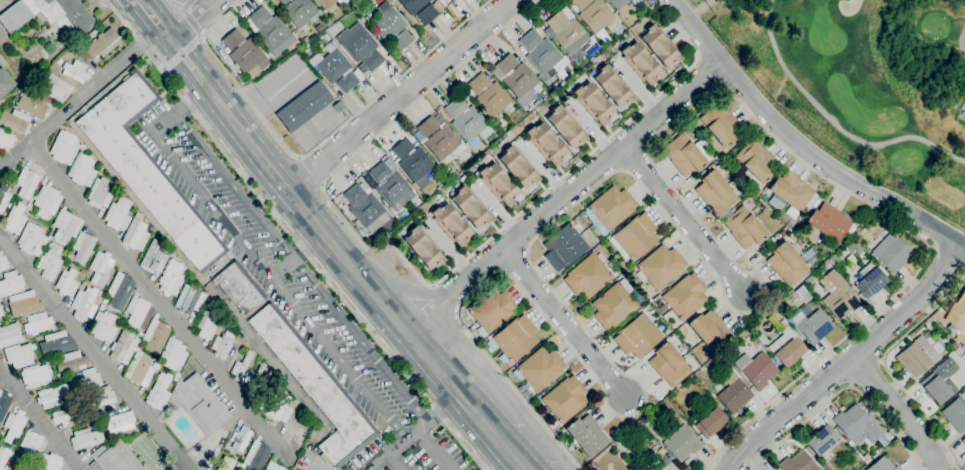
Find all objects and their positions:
building: (452, 1)
building: (283, 2)
building: (618, 3)
road: (186, 4)
building: (412, 5)
building: (331, 6)
road: (699, 9)
road: (182, 11)
building: (47, 14)
building: (301, 14)
building: (427, 14)
building: (594, 14)
building: (259, 17)
road: (141, 19)
building: (327, 22)
road: (191, 24)
road: (193, 24)
building: (366, 24)
building: (319, 28)
building: (389, 28)
building: (568, 34)
building: (275, 36)
road: (184, 40)
road: (962, 42)
road: (193, 43)
building: (101, 45)
building: (660, 45)
building: (360, 46)
road: (181, 54)
building: (245, 54)
building: (541, 54)
road: (170, 62)
building: (641, 62)
building: (506, 64)
road: (178, 66)
building: (334, 67)
building: (75, 71)
building: (520, 81)
building: (5, 82)
building: (478, 83)
park: (863, 84)
building: (613, 86)
building: (55, 88)
road: (401, 96)
building: (524, 99)
road: (190, 100)
building: (492, 100)
road: (77, 101)
building: (594, 102)
building: (34, 105)
building: (303, 107)
road: (396, 118)
building: (465, 120)
building: (15, 121)
road: (833, 123)
building: (720, 124)
building: (565, 126)
building: (428, 127)
building: (5, 140)
building: (441, 143)
building: (546, 143)
road: (801, 145)
building: (82, 146)
building: (64, 147)
road: (317, 147)
building: (402, 148)
building: (485, 152)
building: (684, 155)
building: (757, 161)
building: (416, 164)
building: (518, 167)
building: (147, 169)
building: (82, 170)
road: (311, 171)
road: (568, 171)
building: (737, 172)
building: (740, 180)
building: (27, 182)
building: (499, 183)
building: (390, 185)
building: (100, 193)
building: (715, 193)
building: (4, 194)
building: (790, 194)
road: (565, 197)
building: (47, 201)
building: (29, 207)
building: (471, 207)
building: (365, 208)
building: (610, 209)
road: (304, 211)
building: (118, 214)
building: (14, 219)
building: (829, 222)
building: (451, 224)
road: (687, 224)
building: (65, 227)
building: (744, 228)
building: (782, 234)
building: (136, 235)
building: (636, 236)
road: (293, 238)
building: (31, 240)
road: (378, 245)
building: (83, 247)
building: (423, 247)
building: (564, 247)
building: (801, 252)
building: (891, 253)
road: (297, 254)
building: (70, 256)
building: (154, 257)
road: (947, 257)
building: (50, 261)
building: (3, 262)
building: (787, 265)
building: (816, 265)
road: (300, 266)
building: (660, 266)
building: (100, 268)
building: (186, 272)
road: (270, 273)
building: (589, 275)
building: (171, 278)
building: (870, 279)
road: (718, 280)
building: (808, 281)
building: (67, 282)
building: (10, 284)
building: (239, 288)
building: (119, 290)
road: (408, 290)
building: (101, 294)
building: (802, 294)
building: (836, 295)
building: (685, 296)
road: (443, 297)
building: (0, 300)
building: (104, 300)
building: (189, 300)
road: (159, 301)
building: (24, 303)
building: (84, 304)
building: (614, 305)
building: (101, 307)
building: (491, 309)
building: (1, 312)
building: (138, 312)
building: (957, 312)
building: (207, 322)
road: (565, 322)
building: (37, 323)
building: (101, 324)
building: (811, 324)
building: (710, 330)
building: (9, 335)
building: (155, 336)
building: (637, 336)
building: (514, 339)
building: (960, 340)
building: (785, 343)
building: (56, 344)
building: (222, 344)
building: (953, 345)
building: (123, 347)
building: (728, 350)
building: (958, 352)
building: (18, 353)
road: (94, 353)
building: (173, 354)
building: (919, 355)
building: (71, 361)
road: (848, 361)
building: (669, 364)
road: (884, 365)
building: (140, 368)
building: (242, 368)
building: (756, 369)
building: (538, 370)
building: (35, 376)
building: (176, 377)
building: (86, 381)
road: (457, 381)
building: (939, 382)
building: (257, 383)
building: (316, 387)
road: (841, 390)
building: (159, 392)
building: (52, 396)
building: (735, 396)
building: (565, 399)
building: (103, 400)
building: (198, 403)
building: (3, 404)
building: (279, 408)
road: (895, 413)
building: (955, 414)
building: (67, 416)
road: (41, 418)
building: (119, 422)
building: (711, 422)
building: (13, 425)
building: (856, 425)
road: (413, 429)
building: (638, 430)
building: (587, 435)
building: (85, 438)
building: (241, 439)
building: (821, 440)
building: (886, 440)
building: (963, 441)
building: (682, 443)
building: (31, 446)
building: (621, 446)
road: (431, 449)
building: (877, 450)
parking lot: (414, 452)
road: (519, 452)
building: (256, 455)
building: (3, 456)
building: (116, 456)
building: (866, 459)
road: (394, 460)
building: (48, 462)
building: (798, 462)
building: (225, 463)
building: (665, 463)
building: (883, 465)
building: (21, 466)
building: (243, 466)
building: (273, 466)
road: (528, 468)
building: (654, 468)

